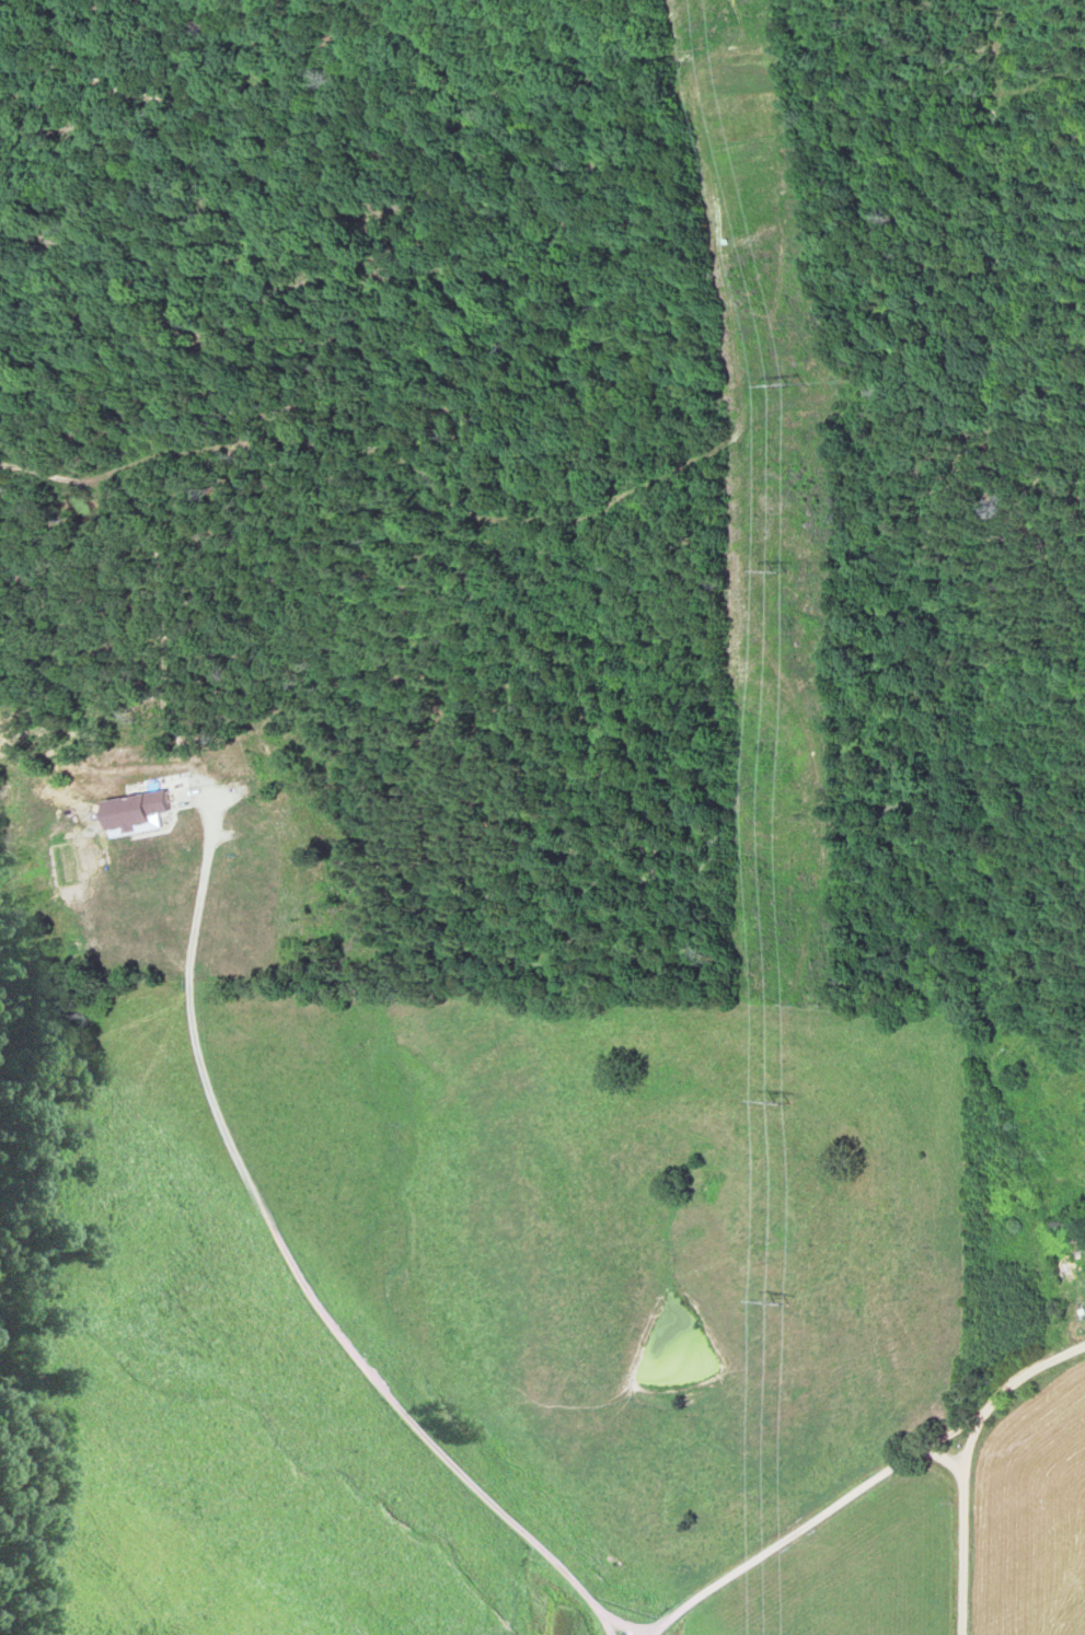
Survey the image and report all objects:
power tower: (794, 382)
power tower: (785, 568)
power tower: (785, 1100)
power tower: (785, 1303)
road: (1031, 1384)
road: (813, 1522)
road: (972, 1524)

